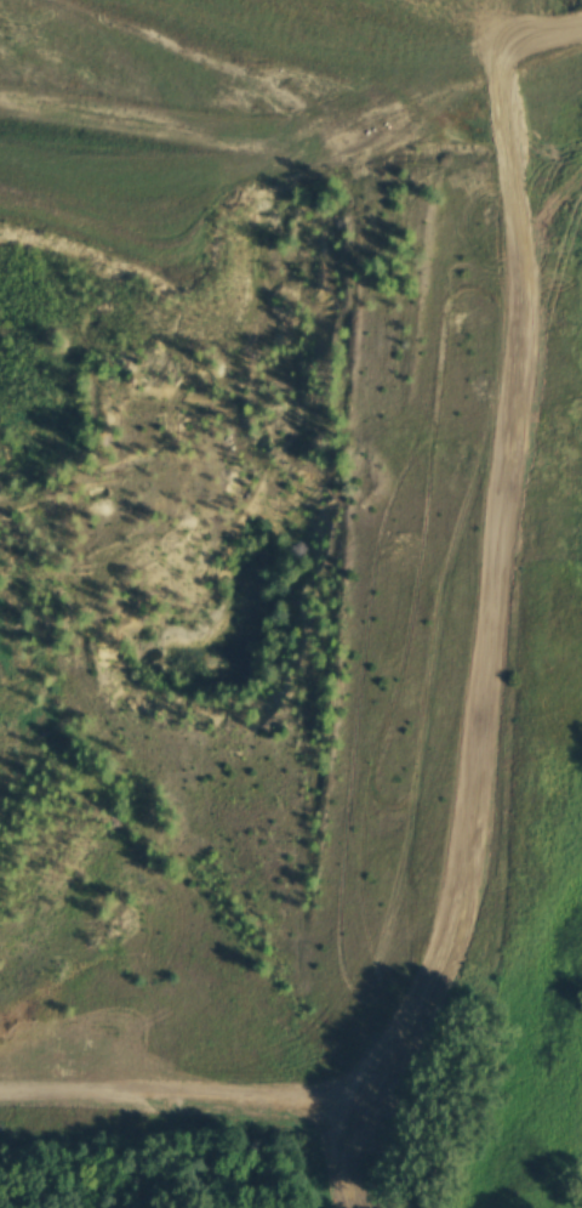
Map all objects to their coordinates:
quarry: (179, 137)
road: (493, 674)
road: (124, 1100)

